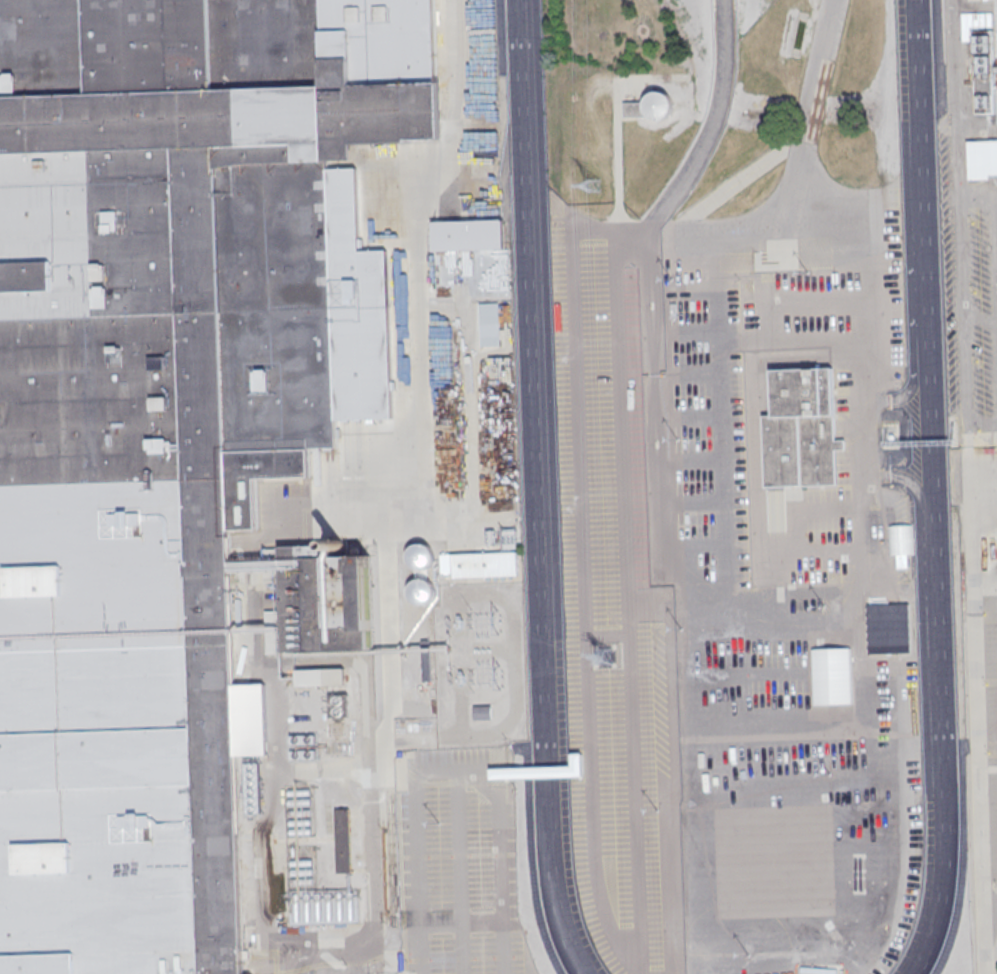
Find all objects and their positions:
building: (974, 0)
building: (985, 85)
road: (476, 103)
building: (649, 106)
road: (713, 121)
building: (982, 160)
power tower: (594, 185)
road: (962, 213)
road: (995, 215)
building: (467, 235)
building: (416, 291)
road: (913, 377)
road: (983, 426)
building: (170, 428)
building: (801, 429)
road: (969, 437)
raceway: (535, 489)
raceway: (933, 489)
road: (917, 495)
road: (860, 521)
building: (421, 556)
building: (422, 592)
road: (985, 593)
power tower: (605, 654)
power substation: (481, 665)
road: (976, 676)
building: (322, 678)
building: (340, 705)
building: (483, 713)
road: (462, 714)
building: (337, 745)
road: (377, 746)
building: (302, 748)
road: (456, 769)
building: (401, 780)
building: (344, 841)
railway: (390, 857)
parking lot: (461, 862)
road: (460, 871)
road: (990, 905)
road: (983, 940)
building: (325, 960)

